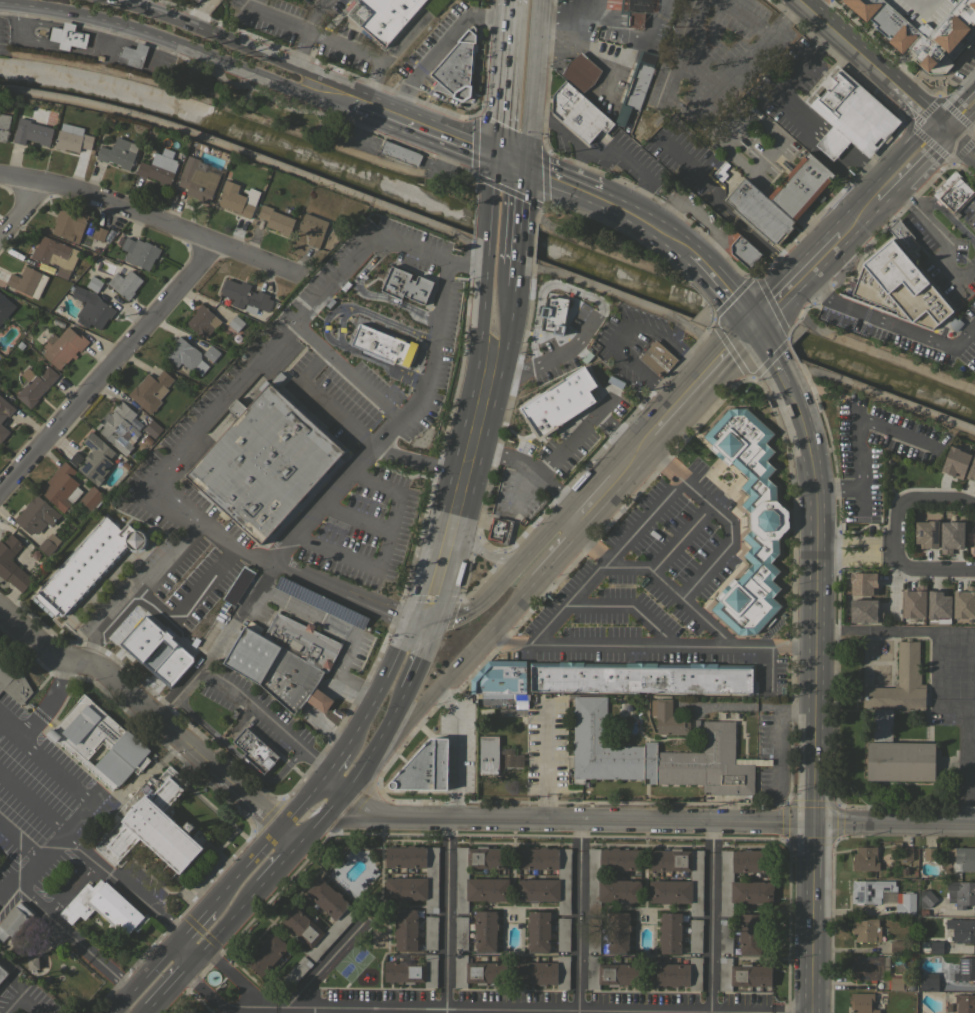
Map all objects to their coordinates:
building: (197, 0)
road: (139, 3)
road: (252, 5)
building: (967, 7)
building: (850, 8)
building: (383, 16)
building: (635, 19)
building: (881, 30)
road: (306, 31)
road: (688, 32)
building: (68, 36)
road: (319, 36)
building: (938, 37)
road: (230, 40)
road: (184, 46)
road: (439, 51)
road: (536, 53)
building: (135, 54)
road: (389, 54)
road: (871, 63)
building: (912, 65)
building: (457, 68)
building: (580, 72)
road: (792, 75)
road: (502, 79)
building: (636, 84)
building: (578, 112)
road: (960, 113)
building: (850, 115)
road: (818, 125)
building: (4, 126)
road: (422, 129)
road: (559, 129)
building: (31, 132)
building: (72, 138)
road: (531, 138)
road: (835, 140)
road: (960, 144)
building: (119, 153)
building: (400, 153)
road: (921, 154)
traffic signals: (497, 159)
road: (513, 164)
building: (818, 165)
building: (159, 167)
road: (630, 167)
road: (866, 167)
traffic signals: (529, 170)
road: (580, 171)
building: (198, 179)
road: (494, 180)
road: (561, 183)
building: (798, 189)
road: (886, 189)
building: (953, 192)
road: (526, 193)
building: (234, 199)
road: (23, 210)
building: (759, 212)
road: (695, 214)
road: (138, 216)
road: (858, 218)
building: (276, 220)
road: (489, 221)
road: (643, 221)
building: (69, 224)
building: (313, 228)
building: (99, 233)
road: (748, 233)
road: (941, 234)
road: (522, 235)
building: (903, 237)
road: (412, 246)
building: (743, 251)
building: (139, 252)
building: (56, 256)
road: (520, 260)
road: (467, 264)
road: (446, 269)
building: (27, 281)
road: (797, 281)
building: (125, 283)
building: (94, 284)
building: (405, 285)
road: (723, 288)
building: (898, 288)
road: (366, 294)
building: (245, 295)
building: (5, 307)
building: (91, 308)
building: (555, 313)
building: (551, 316)
building: (203, 320)
road: (887, 322)
building: (235, 323)
road: (325, 324)
road: (389, 324)
traffic signals: (754, 326)
road: (339, 327)
road: (624, 332)
road: (585, 335)
building: (383, 345)
building: (63, 346)
road: (319, 347)
road: (771, 349)
building: (210, 353)
building: (185, 355)
road: (322, 356)
road: (426, 356)
building: (657, 358)
road: (260, 359)
road: (380, 364)
road: (107, 366)
road: (310, 371)
road: (702, 379)
building: (35, 384)
building: (150, 390)
building: (576, 390)
road: (368, 391)
road: (876, 394)
building: (5, 409)
road: (332, 410)
road: (394, 416)
building: (118, 427)
building: (152, 429)
building: (3, 432)
road: (459, 432)
road: (806, 432)
road: (570, 442)
road: (369, 443)
rooftop solar panel: (89, 444)
road: (859, 445)
road: (484, 446)
road: (630, 455)
building: (95, 459)
road: (411, 459)
road: (662, 460)
building: (954, 462)
building: (266, 464)
rooftop solar panel: (86, 466)
building: (971, 469)
road: (534, 473)
road: (682, 479)
road: (375, 483)
building: (974, 485)
building: (59, 486)
road: (521, 488)
road: (329, 495)
building: (91, 497)
road: (913, 497)
road: (588, 499)
building: (36, 515)
road: (196, 518)
road: (354, 518)
building: (750, 520)
building: (499, 530)
road: (197, 532)
road: (387, 532)
rooftop solar panel: (918, 534)
building: (926, 534)
rooftop solar panel: (932, 535)
building: (950, 535)
road: (680, 538)
road: (588, 540)
road: (546, 541)
building: (973, 543)
building: (48, 544)
road: (855, 549)
road: (231, 550)
road: (551, 552)
road: (332, 555)
road: (487, 555)
building: (12, 563)
building: (87, 565)
road: (929, 569)
road: (648, 570)
building: (862, 583)
building: (238, 585)
road: (327, 586)
road: (142, 587)
road: (204, 591)
road: (485, 599)
rooftop solar panel: (320, 601)
building: (322, 602)
building: (913, 605)
building: (938, 605)
building: (963, 605)
road: (625, 606)
building: (862, 611)
road: (304, 612)
traffic signals: (408, 619)
road: (422, 621)
traffic signals: (437, 624)
road: (895, 629)
road: (168, 630)
road: (178, 630)
building: (302, 641)
road: (219, 645)
road: (649, 646)
road: (84, 648)
road: (348, 651)
building: (156, 654)
road: (815, 657)
road: (421, 658)
road: (460, 665)
building: (277, 671)
road: (203, 674)
building: (500, 677)
building: (641, 677)
road: (333, 678)
building: (13, 680)
building: (900, 682)
road: (358, 683)
road: (382, 687)
building: (493, 696)
road: (47, 703)
road: (145, 707)
road: (752, 707)
road: (256, 710)
building: (484, 711)
road: (393, 716)
building: (668, 718)
road: (236, 723)
road: (329, 730)
building: (100, 742)
road: (780, 748)
building: (255, 749)
road: (458, 749)
building: (489, 754)
building: (896, 754)
building: (658, 755)
road: (238, 756)
road: (164, 757)
road: (314, 761)
road: (547, 762)
road: (966, 762)
road: (188, 764)
road: (163, 765)
road: (333, 765)
building: (425, 768)
road: (360, 769)
road: (177, 775)
road: (175, 776)
road: (330, 789)
road: (71, 790)
road: (32, 803)
road: (300, 804)
road: (221, 816)
parking lot: (43, 817)
road: (317, 820)
road: (572, 820)
traffic signals: (814, 823)
road: (894, 824)
building: (153, 825)
building: (190, 826)
road: (288, 834)
road: (20, 844)
building: (906, 853)
building: (929, 854)
building: (962, 858)
building: (865, 859)
road: (227, 861)
road: (194, 863)
road: (277, 864)
building: (904, 871)
road: (207, 874)
road: (31, 875)
building: (603, 879)
building: (544, 881)
building: (744, 882)
road: (71, 888)
building: (411, 888)
building: (482, 889)
building: (675, 891)
road: (130, 893)
building: (961, 893)
building: (882, 896)
building: (926, 898)
road: (205, 906)
building: (105, 908)
building: (923, 912)
road: (444, 916)
road: (578, 917)
road: (710, 917)
building: (295, 918)
road: (812, 918)
road: (226, 920)
building: (14, 921)
building: (866, 929)
building: (961, 929)
building: (406, 930)
building: (485, 930)
building: (538, 931)
building: (617, 931)
building: (431, 932)
building: (461, 932)
building: (670, 932)
building: (563, 933)
building: (749, 933)
building: (695, 935)
building: (725, 935)
road: (76, 937)
building: (593, 939)
building: (897, 947)
building: (936, 947)
building: (266, 953)
rooftop solar panel: (863, 958)
rooftop solar panel: (876, 964)
rooftop solar panel: (963, 966)
road: (324, 967)
building: (866, 967)
building: (965, 969)
building: (296, 971)
building: (413, 971)
building: (3, 972)
building: (477, 972)
building: (544, 972)
building: (610, 973)
building: (676, 974)
building: (742, 974)
road: (236, 977)
rooftop solar panel: (860, 979)
road: (170, 980)
building: (929, 981)
building: (896, 982)
road: (19, 997)
parking lot: (25, 999)
road: (121, 1000)
building: (862, 1002)
building: (965, 1003)
road: (215, 1005)
road: (143, 1009)
road: (312, 1011)
road: (392, 1011)

